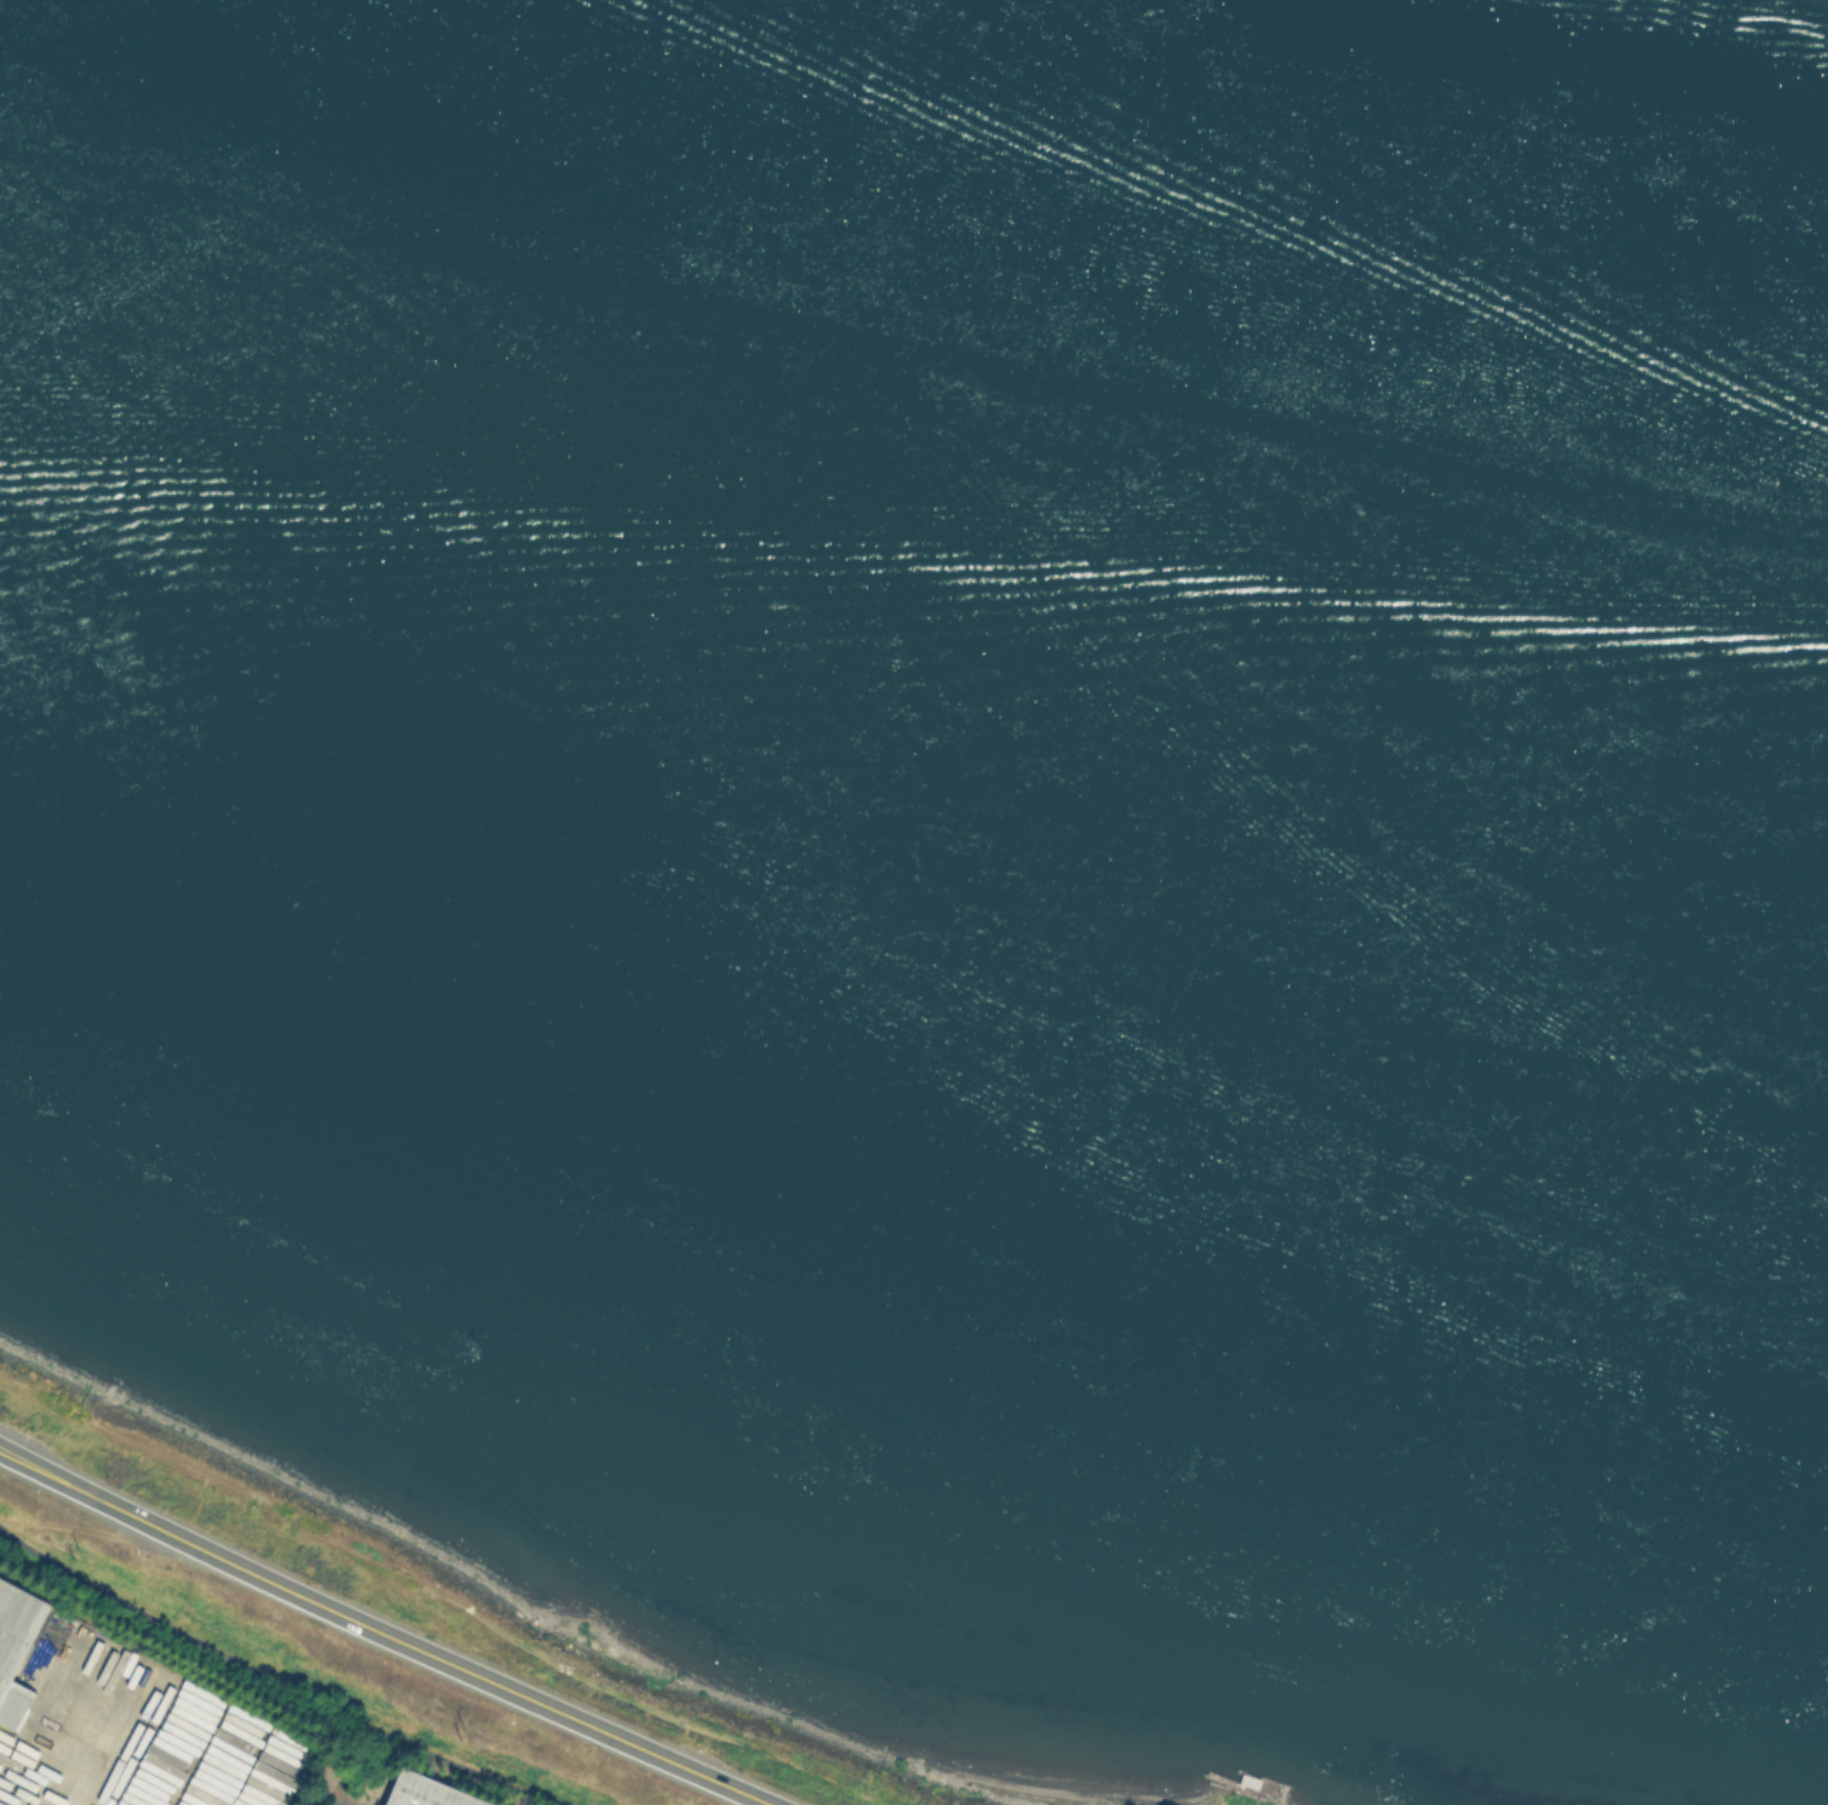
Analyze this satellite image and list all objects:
road: (382, 1633)
building: (27, 1650)
road: (275, 1678)
road: (98, 1772)
building: (430, 1792)

